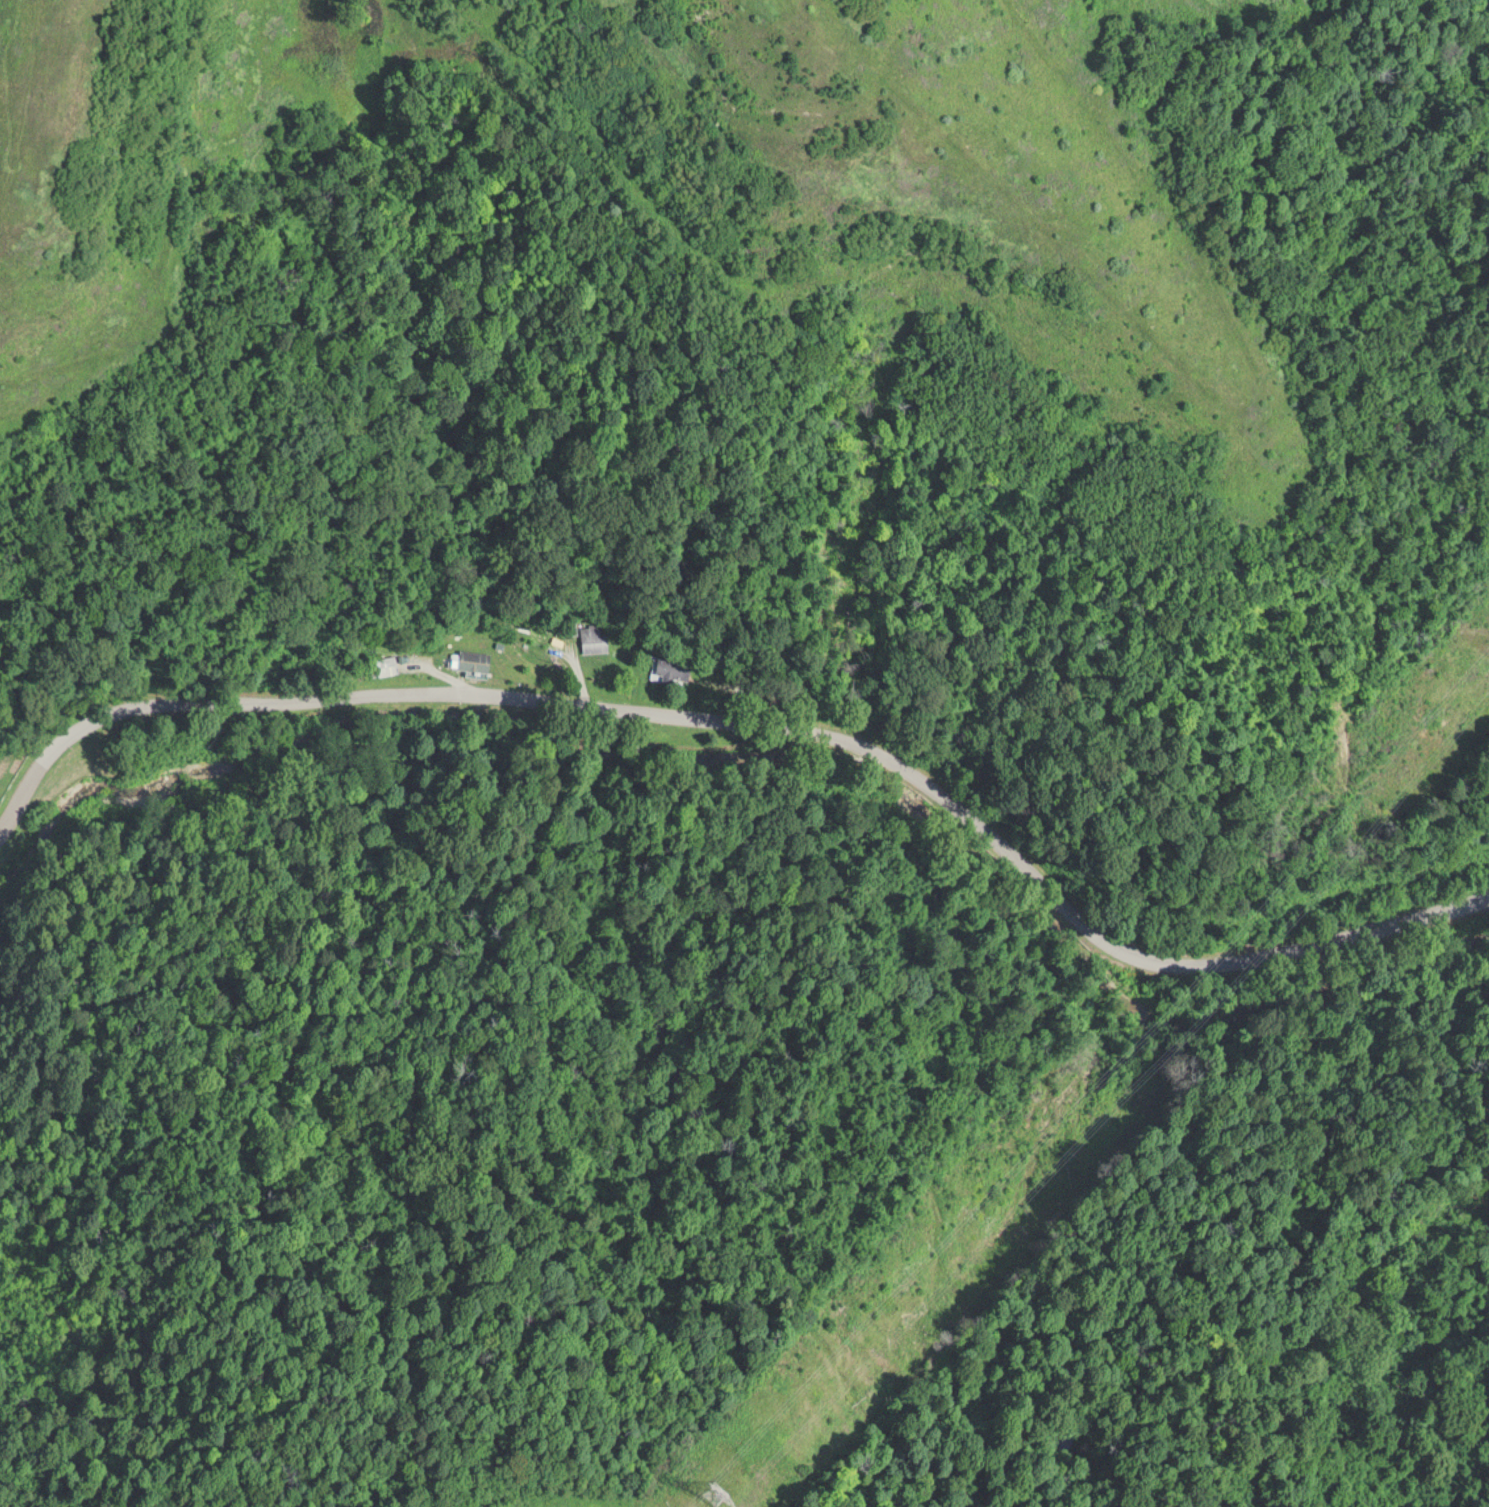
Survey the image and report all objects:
building: (594, 638)
building: (475, 659)
building: (385, 664)
building: (674, 667)
road: (764, 705)
power tower: (717, 1480)

